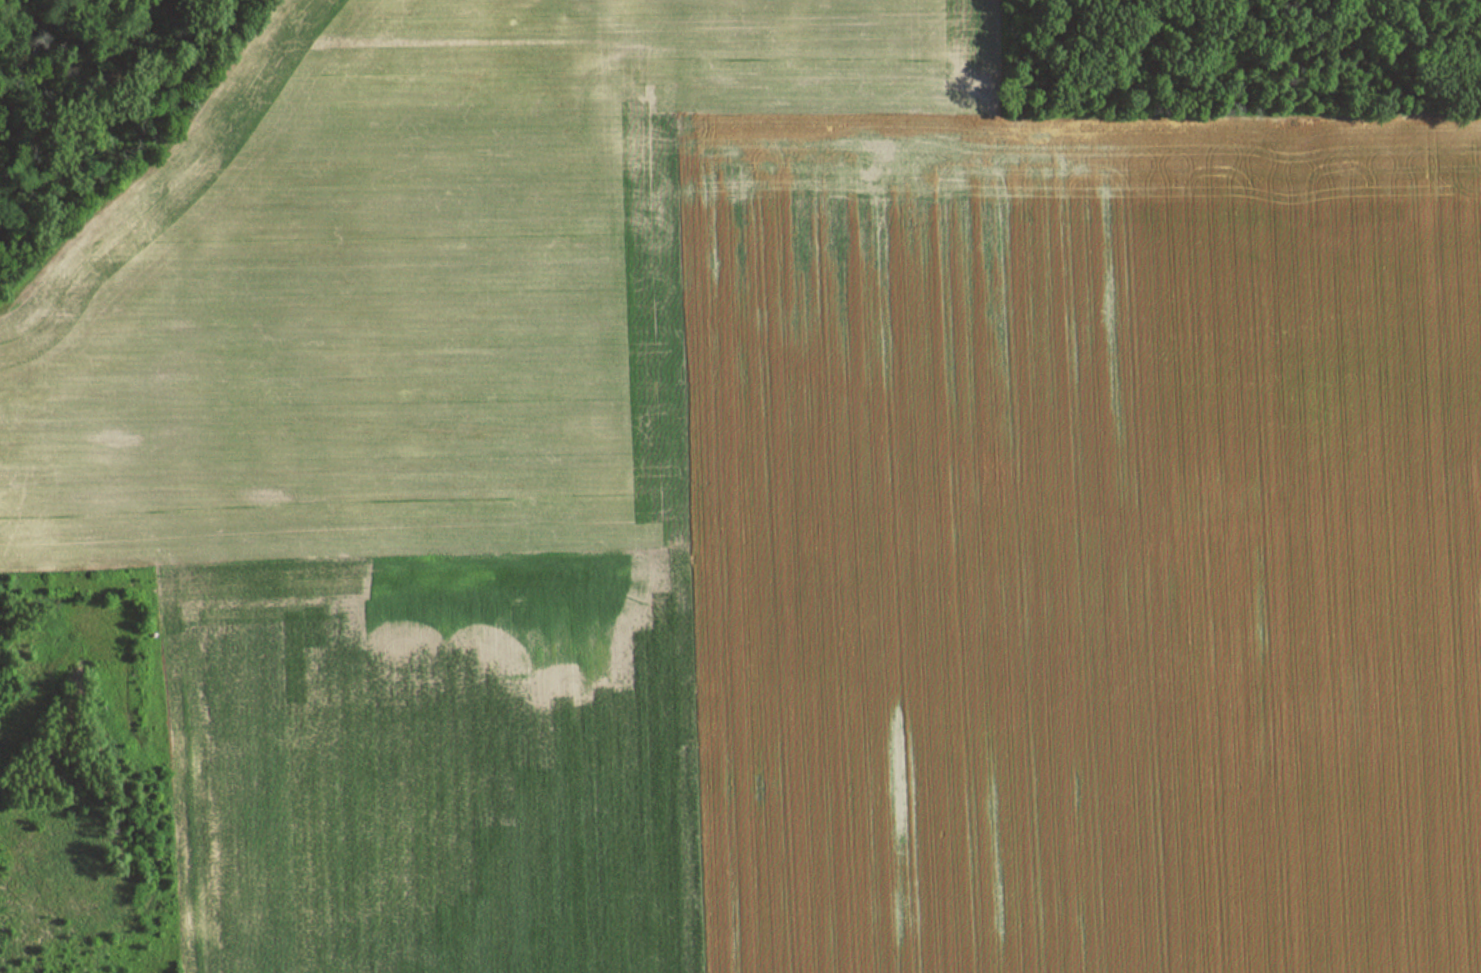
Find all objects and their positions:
crop: (771, 507)

